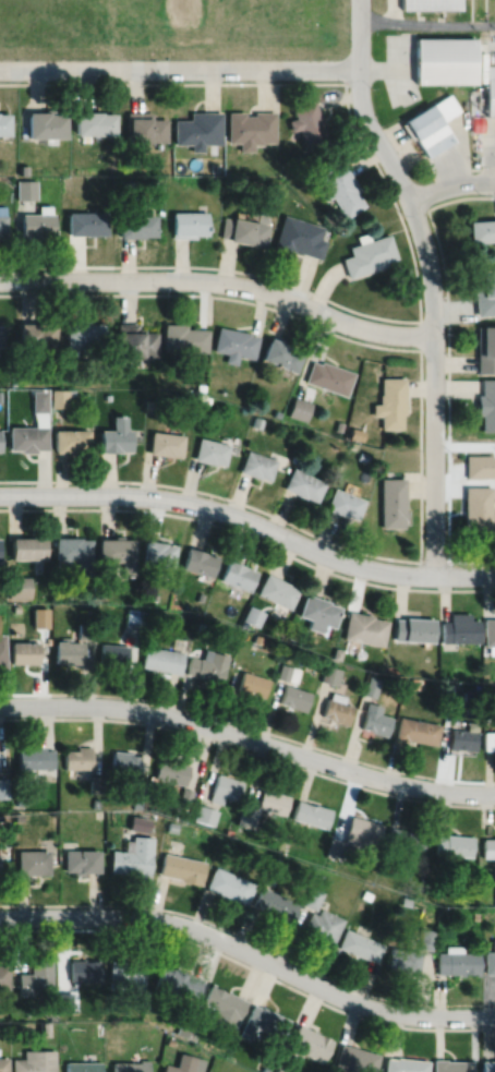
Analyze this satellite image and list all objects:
building: (430, 3)
road: (426, 24)
building: (443, 59)
road: (179, 68)
building: (490, 88)
building: (92, 122)
building: (3, 123)
building: (309, 123)
building: (430, 123)
building: (43, 124)
building: (144, 128)
building: (250, 128)
building: (197, 129)
building: (157, 144)
road: (491, 159)
road: (482, 167)
building: (22, 169)
building: (154, 181)
building: (243, 181)
building: (126, 183)
road: (450, 184)
building: (339, 188)
building: (25, 189)
building: (36, 221)
building: (85, 222)
building: (188, 224)
building: (2, 225)
building: (135, 225)
building: (481, 229)
building: (243, 230)
building: (299, 237)
road: (407, 237)
building: (369, 254)
road: (430, 279)
road: (220, 281)
building: (484, 292)
road: (214, 294)
building: (35, 334)
building: (1, 335)
building: (83, 335)
road: (420, 335)
building: (183, 338)
building: (134, 341)
building: (234, 344)
building: (485, 349)
building: (281, 354)
road: (448, 371)
building: (328, 377)
building: (14, 383)
building: (200, 386)
building: (72, 393)
building: (0, 396)
building: (107, 396)
building: (59, 398)
building: (206, 399)
building: (39, 401)
building: (390, 402)
building: (149, 405)
building: (486, 405)
building: (299, 408)
building: (275, 413)
building: (256, 422)
building: (338, 425)
building: (355, 434)
building: (114, 436)
building: (26, 438)
building: (0, 441)
building: (69, 441)
building: (164, 444)
building: (209, 451)
building: (362, 456)
building: (256, 466)
building: (478, 466)
building: (302, 485)
building: (393, 503)
building: (343, 504)
building: (475, 510)
road: (251, 520)
road: (313, 533)
road: (250, 535)
building: (28, 545)
building: (74, 550)
building: (118, 551)
building: (158, 551)
building: (200, 559)
road: (434, 561)
building: (238, 573)
building: (19, 585)
building: (277, 588)
building: (200, 594)
building: (155, 595)
building: (15, 606)
building: (319, 610)
building: (152, 611)
building: (253, 613)
building: (134, 615)
building: (243, 622)
building: (201, 625)
building: (365, 626)
building: (414, 627)
building: (460, 627)
building: (87, 629)
building: (490, 631)
building: (293, 633)
building: (257, 637)
building: (2, 649)
building: (68, 649)
building: (23, 650)
building: (114, 651)
building: (360, 651)
building: (338, 652)
building: (162, 658)
building: (208, 664)
building: (288, 671)
building: (330, 673)
building: (253, 682)
building: (415, 682)
building: (372, 685)
building: (474, 688)
building: (294, 696)
building: (338, 707)
building: (376, 718)
road: (249, 725)
building: (416, 728)
building: (463, 736)
road: (249, 738)
building: (488, 738)
road: (249, 750)
building: (35, 756)
building: (77, 756)
building: (125, 763)
building: (171, 769)
building: (94, 782)
building: (138, 785)
building: (3, 786)
building: (225, 787)
building: (184, 795)
building: (20, 798)
building: (273, 799)
building: (95, 802)
building: (136, 802)
building: (204, 812)
building: (311, 812)
building: (3, 815)
building: (183, 815)
building: (16, 816)
building: (246, 816)
building: (137, 821)
building: (171, 824)
building: (354, 836)
building: (406, 839)
building: (455, 843)
building: (488, 846)
building: (131, 855)
building: (80, 859)
building: (32, 860)
building: (275, 860)
building: (181, 867)
building: (229, 884)
building: (366, 893)
building: (313, 896)
building: (406, 900)
building: (274, 904)
building: (475, 914)
building: (323, 925)
building: (426, 937)
road: (251, 939)
building: (360, 944)
road: (250, 952)
building: (405, 957)
building: (490, 960)
building: (458, 961)
road: (250, 965)
building: (85, 969)
building: (125, 975)
building: (4, 976)
building: (36, 977)
building: (178, 980)
building: (64, 1001)
building: (222, 1005)
building: (51, 1014)
building: (264, 1022)
building: (186, 1026)
building: (99, 1027)
building: (44, 1028)
building: (152, 1034)
building: (169, 1040)
building: (309, 1044)
building: (357, 1059)
building: (35, 1061)
building: (3, 1064)
building: (184, 1064)
building: (406, 1064)
building: (131, 1065)
building: (452, 1065)
building: (488, 1065)
building: (83, 1067)
building: (265, 1069)
building: (277, 1069)

